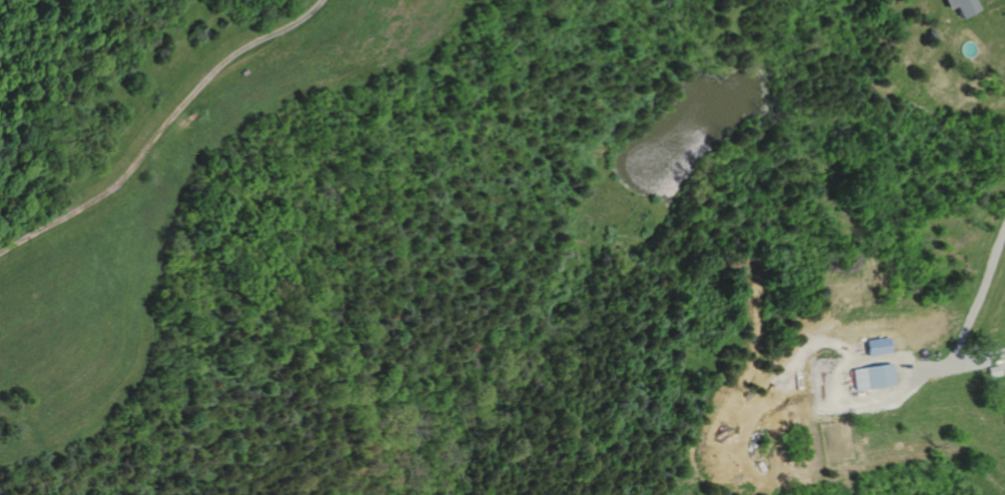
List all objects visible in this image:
building: (966, 6)
road: (162, 126)
road: (969, 316)
road: (845, 367)
building: (995, 371)
building: (874, 377)

